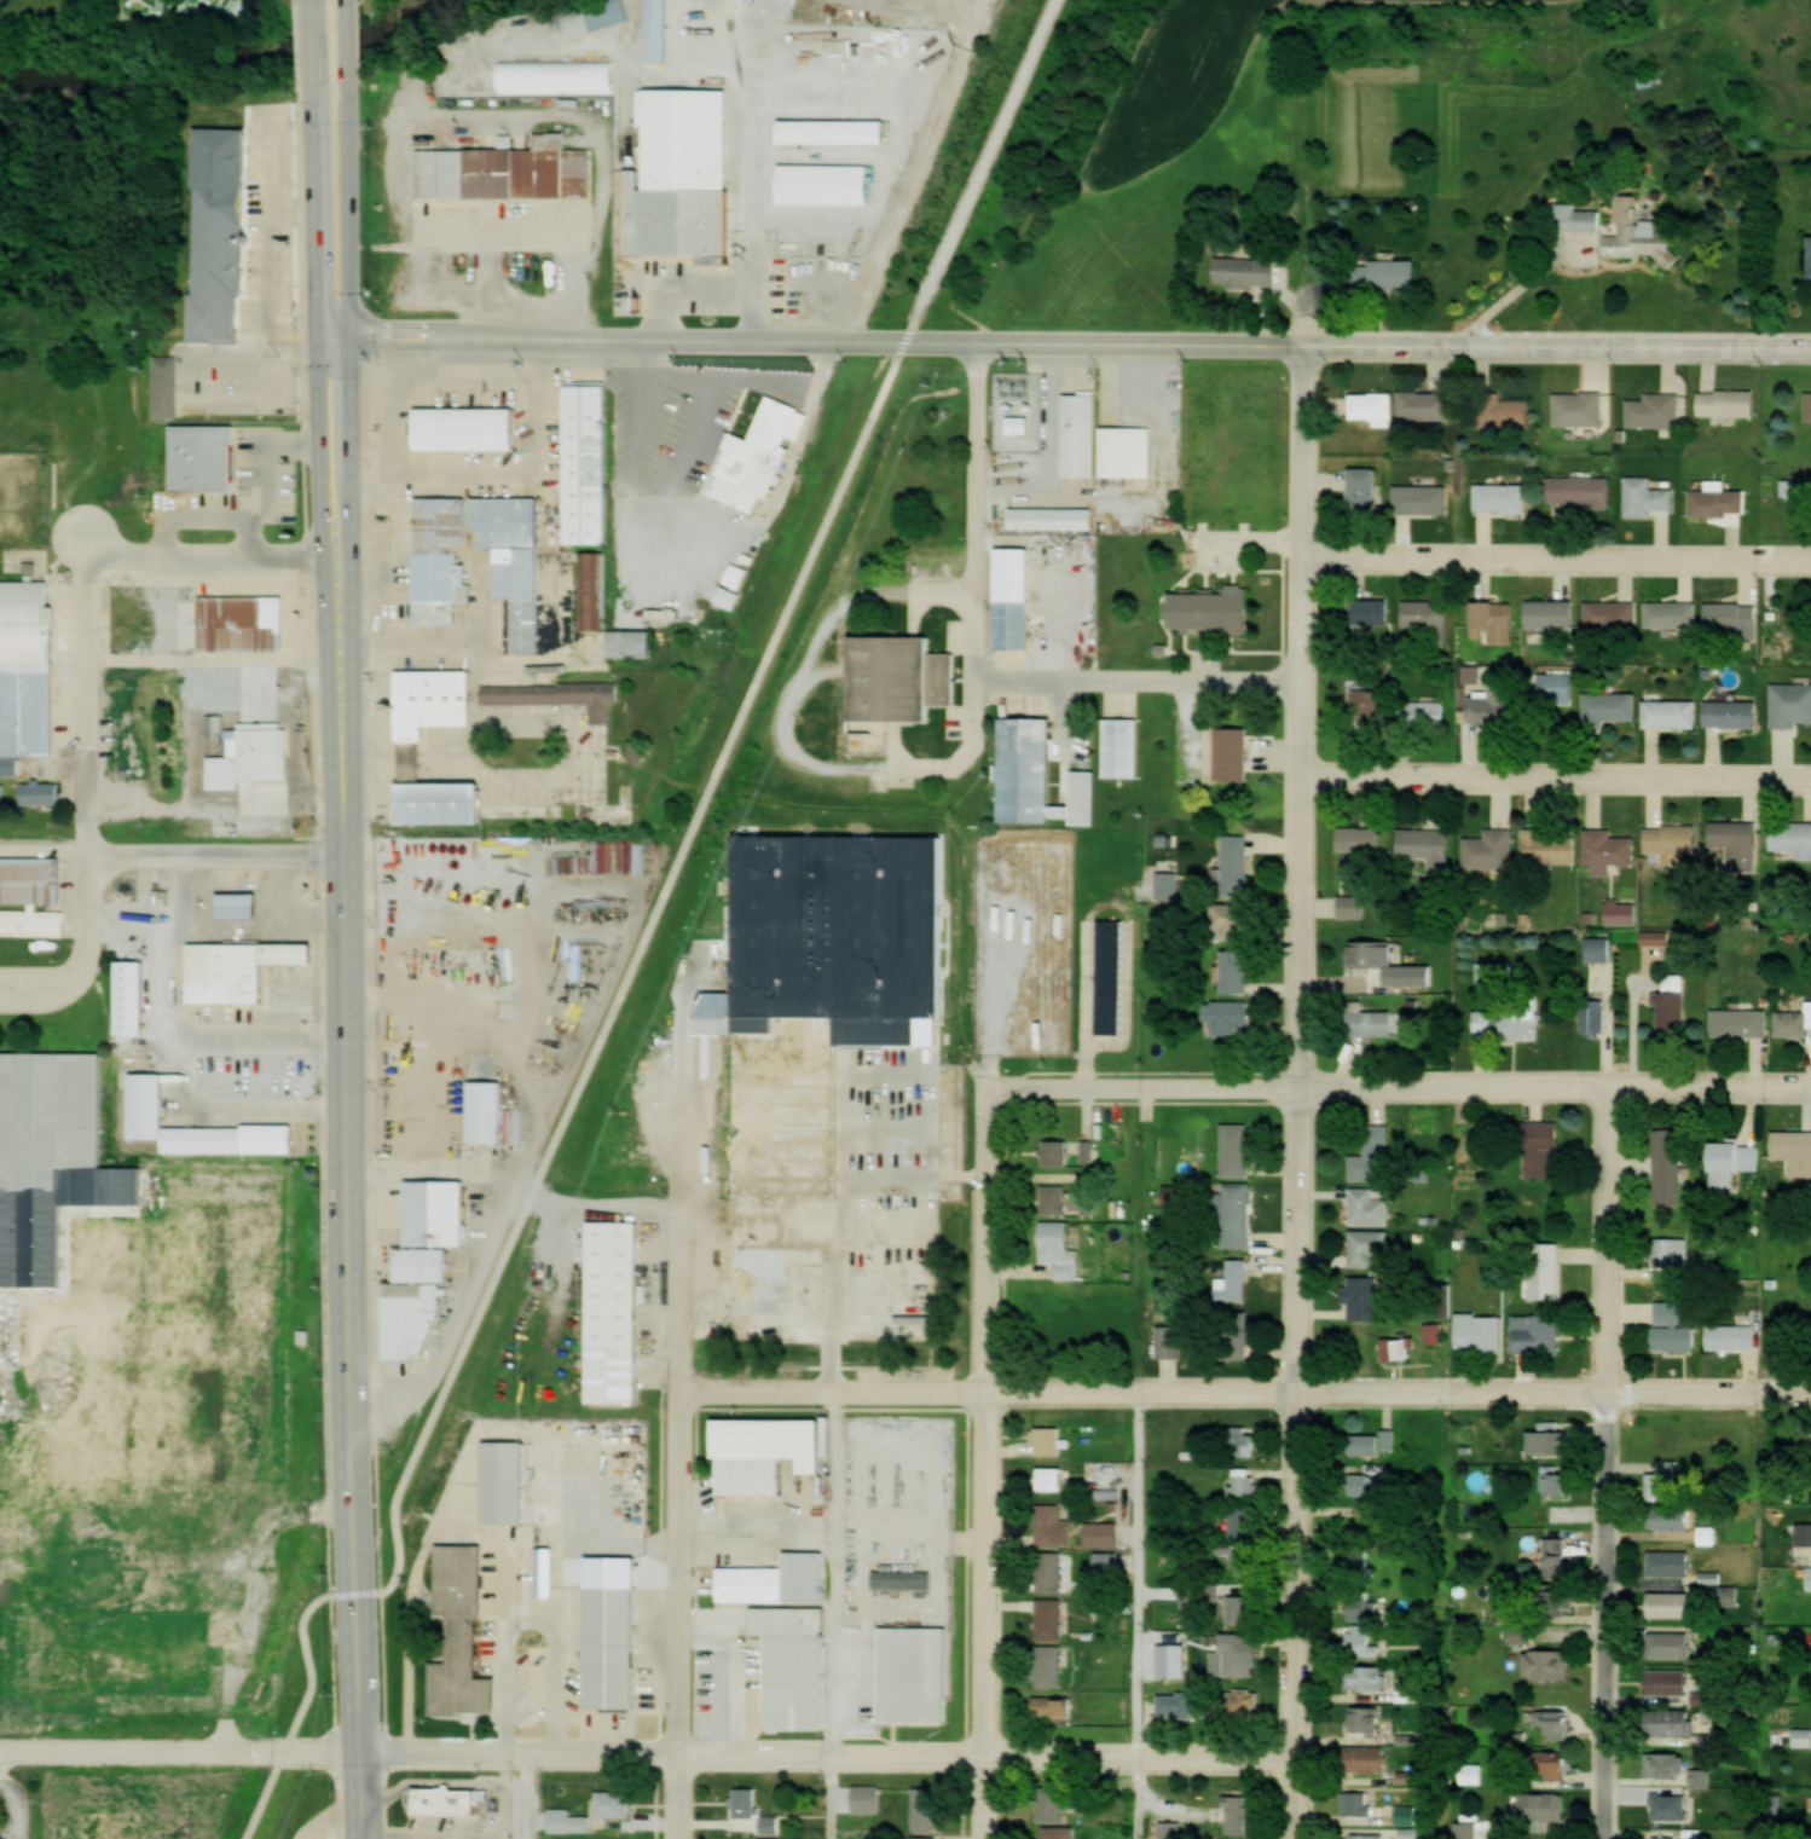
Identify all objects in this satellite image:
road: (309, 0)
building: (575, 22)
building: (659, 28)
road: (312, 42)
road: (348, 42)
building: (555, 71)
building: (1648, 80)
building: (832, 128)
building: (685, 135)
road: (988, 155)
building: (505, 169)
building: (823, 181)
road: (316, 209)
road: (349, 209)
building: (1579, 216)
building: (1641, 235)
building: (224, 260)
building: (1246, 271)
building: (1388, 272)
road: (1528, 290)
traffic signals: (318, 335)
traffic signals: (349, 335)
road: (1064, 345)
building: (168, 386)
building: (1729, 403)
building: (1373, 405)
building: (1428, 405)
building: (1809, 406)
building: (1579, 407)
power substation: (1016, 410)
building: (1655, 410)
building: (1502, 411)
building: (467, 426)
building: (1078, 432)
road: (348, 447)
road: (320, 449)
building: (1124, 449)
building: (206, 456)
building: (756, 456)
building: (588, 461)
road: (781, 491)
building: (1364, 491)
building: (1581, 491)
building: (1649, 497)
building: (1421, 499)
building: (1503, 499)
building: (1719, 501)
road: (978, 513)
building: (1051, 515)
building: (507, 517)
building: (430, 559)
road: (1560, 561)
building: (519, 568)
building: (594, 591)
building: (1012, 595)
building: (1213, 611)
building: (1375, 613)
building: (1552, 614)
building: (1671, 614)
building: (1427, 615)
building: (1610, 615)
building: (1732, 618)
building: (24, 619)
building: (243, 623)
building: (1493, 623)
building: (632, 643)
road: (1141, 682)
building: (896, 683)
building: (1556, 688)
building: (435, 693)
road: (87, 694)
building: (557, 695)
building: (1792, 705)
building: (1497, 706)
building: (1612, 706)
building: (1372, 707)
building: (1672, 710)
building: (1423, 713)
building: (1734, 713)
building: (1121, 742)
building: (248, 752)
building: (1234, 753)
building: (1025, 765)
road: (1558, 777)
building: (441, 800)
building: (1793, 837)
building: (1360, 838)
building: (1674, 843)
building: (1736, 843)
building: (1428, 845)
building: (1550, 845)
building: (1492, 849)
building: (1609, 850)
road: (216, 854)
building: (1238, 863)
building: (29, 875)
building: (239, 904)
building: (1353, 906)
building: (33, 918)
building: (1234, 920)
building: (838, 921)
building: (1601, 949)
building: (1376, 953)
building: (227, 968)
building: (1237, 970)
building: (1494, 973)
building: (1111, 976)
building: (1391, 981)
building: (131, 995)
building: (1672, 1007)
building: (1595, 1016)
building: (1231, 1017)
building: (1369, 1020)
building: (1741, 1022)
building: (1794, 1023)
building: (1509, 1024)
road: (1300, 1092)
road: (1399, 1093)
road: (574, 1099)
building: (146, 1103)
building: (487, 1108)
building: (204, 1137)
building: (1792, 1145)
building: (1545, 1149)
building: (1236, 1150)
building: (1057, 1152)
building: (1373, 1155)
building: (1731, 1163)
building: (1668, 1167)
building: (1174, 1195)
road: (349, 1199)
building: (1054, 1199)
building: (1088, 1203)
building: (1369, 1205)
building: (436, 1210)
building: (1237, 1214)
building: (1057, 1242)
building: (1369, 1248)
building: (753, 1253)
building: (1671, 1254)
building: (423, 1262)
building: (1547, 1271)
building: (1234, 1282)
building: (1365, 1297)
building: (613, 1308)
building: (1480, 1330)
building: (1538, 1332)
building: (1236, 1335)
building: (1732, 1336)
building: (1676, 1337)
building: (1170, 1341)
building: (1398, 1348)
road: (1246, 1398)
building: (1555, 1438)
building: (1049, 1441)
building: (1244, 1441)
building: (1371, 1442)
road: (681, 1446)
road: (984, 1463)
road: (1612, 1465)
building: (752, 1474)
building: (1051, 1476)
building: (504, 1477)
building: (1555, 1480)
building: (1366, 1481)
building: (1666, 1481)
building: (1245, 1482)
building: (1674, 1519)
building: (1243, 1521)
building: (1051, 1523)
building: (1105, 1533)
building: (1708, 1536)
building: (1557, 1557)
building: (1244, 1562)
building: (1107, 1563)
building: (1671, 1563)
building: (543, 1569)
building: (1051, 1571)
building: (99, 1573)
building: (803, 1573)
building: (1711, 1578)
building: (903, 1579)
building: (1810, 1579)
building: (753, 1583)
building: (1203, 1595)
building: (1671, 1603)
building: (1366, 1607)
building: (1242, 1608)
building: (1051, 1619)
building: (463, 1635)
building: (1364, 1642)
building: (612, 1643)
building: (1670, 1643)
building: (152, 1649)
building: (1239, 1653)
building: (1547, 1664)
building: (795, 1665)
building: (1051, 1665)
building: (913, 1672)
building: (1369, 1676)
building: (1673, 1682)
building: (1178, 1704)
building: (1245, 1704)
building: (1055, 1706)
building: (1366, 1719)
building: (1677, 1722)
building: (1561, 1724)
road: (647, 1757)
building: (1367, 1758)
building: (1555, 1764)
building: (1670, 1764)
building: (446, 1798)
building: (746, 1800)
building: (867, 1802)
building: (617, 1803)
building: (1052, 1803)
building: (1360, 1803)
building: (1671, 1805)
building: (134, 1806)
building: (1544, 1806)
building: (925, 1809)
building: (1405, 1814)
building: (1239, 1815)
building: (569, 1821)
building: (1174, 1829)
building: (1468, 1829)
building: (1059, 1832)
building: (1693, 1833)
building: (1367, 1835)
building: (1410, 1835)
building: (921, 1838)
building: (1666, 1838)

